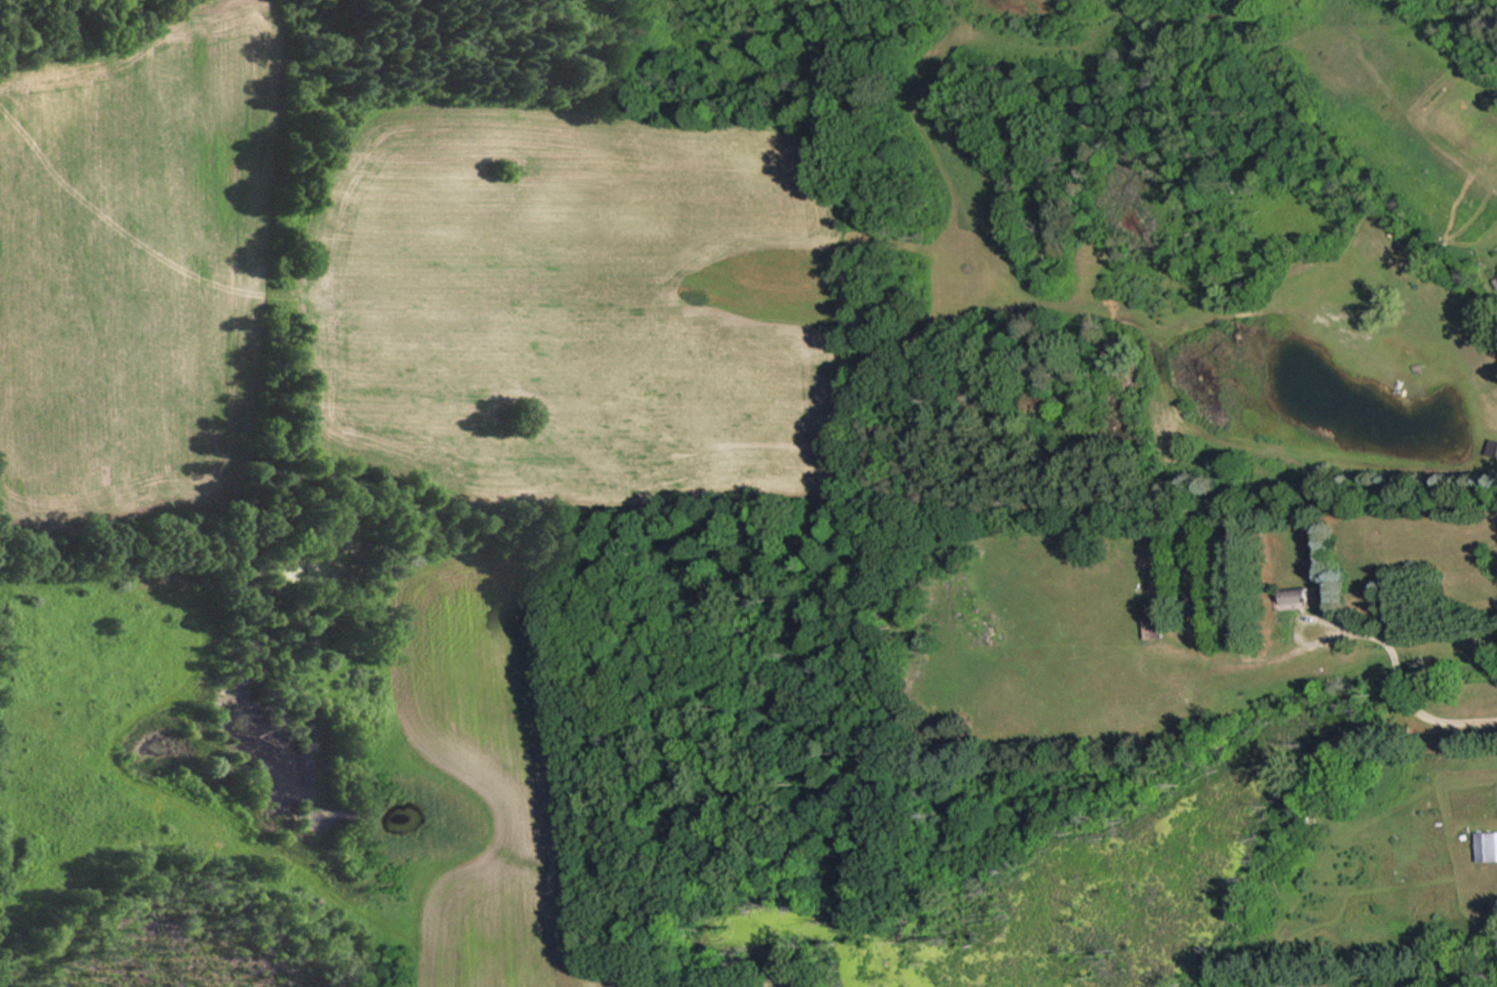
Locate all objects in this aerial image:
building: (1300, 596)
building: (1154, 629)
road: (1407, 687)
building: (1487, 845)

